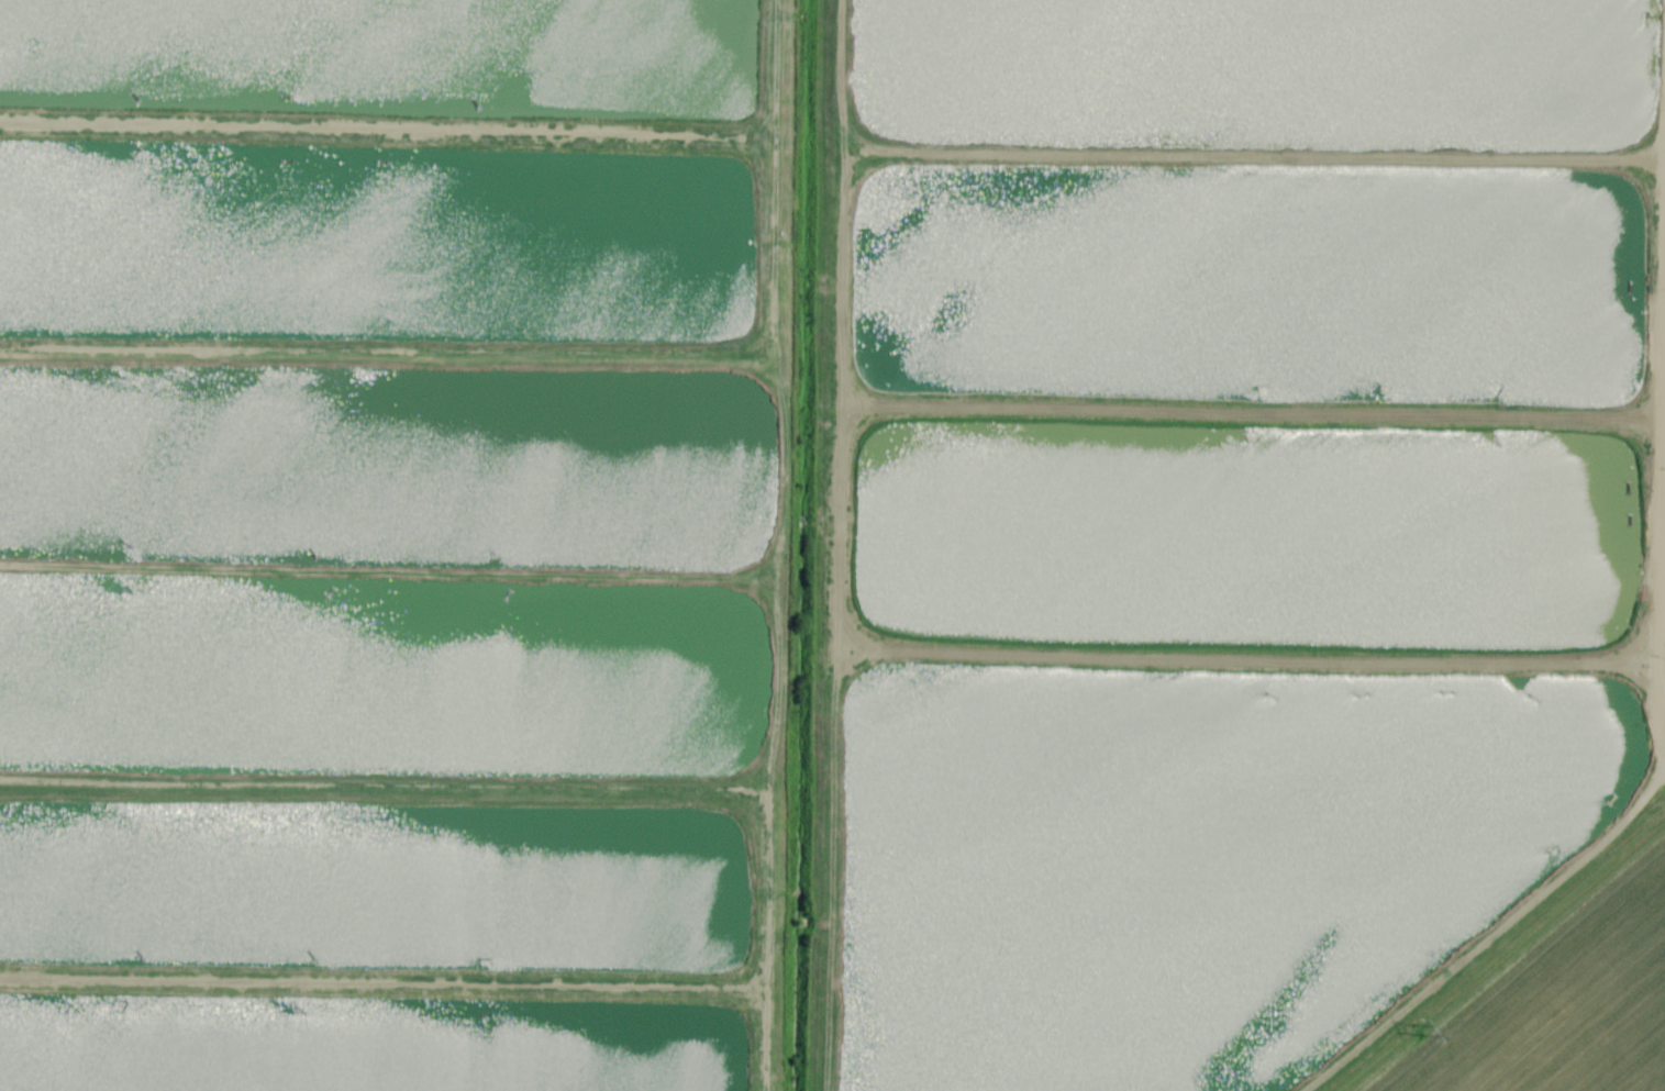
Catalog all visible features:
road: (1654, 374)
road: (776, 545)
road: (831, 545)
road: (1489, 934)
power tower: (1419, 1031)

